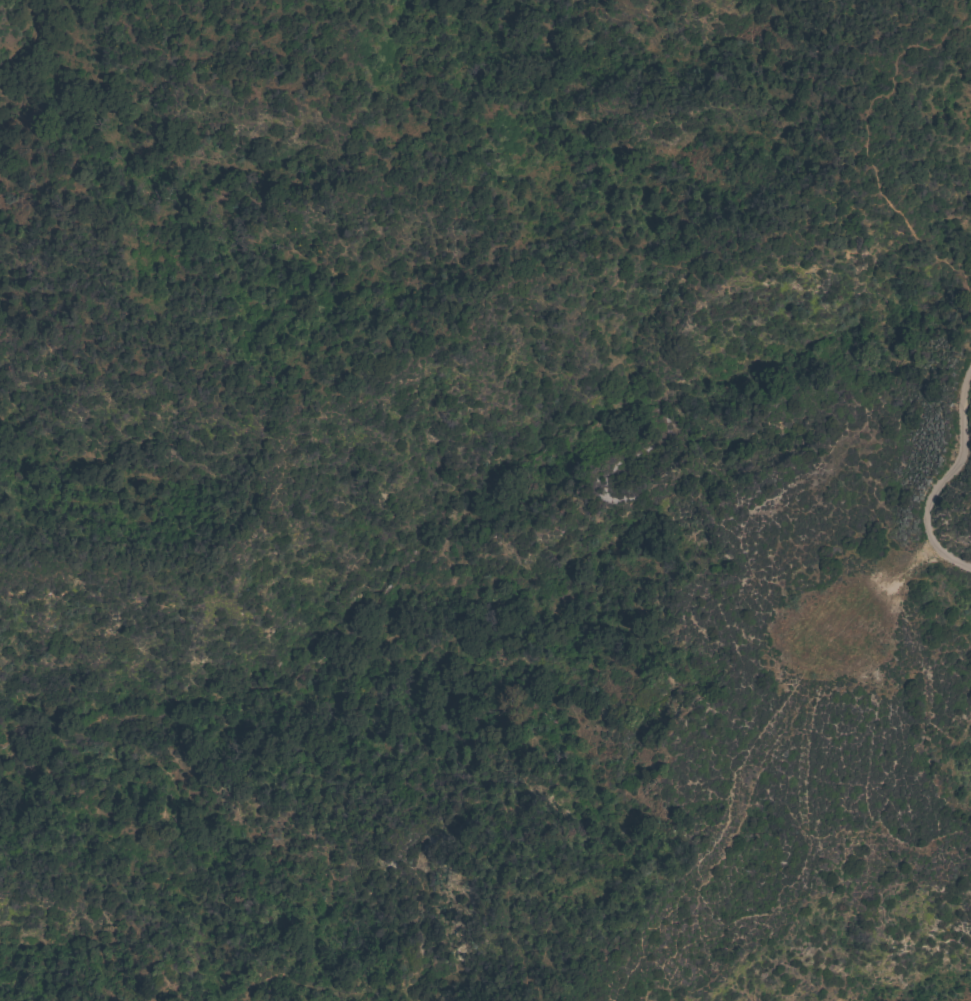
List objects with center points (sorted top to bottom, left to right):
road: (867, 154)
road: (939, 482)

